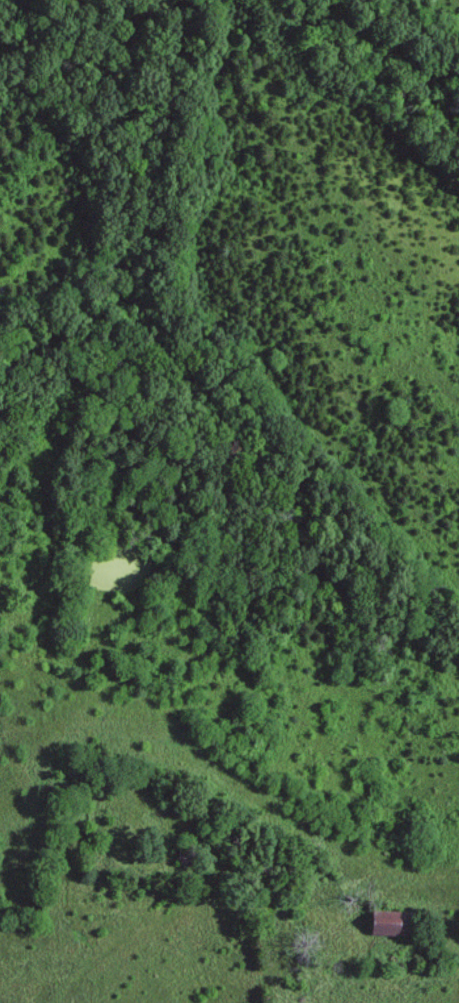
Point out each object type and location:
road: (265, 922)

